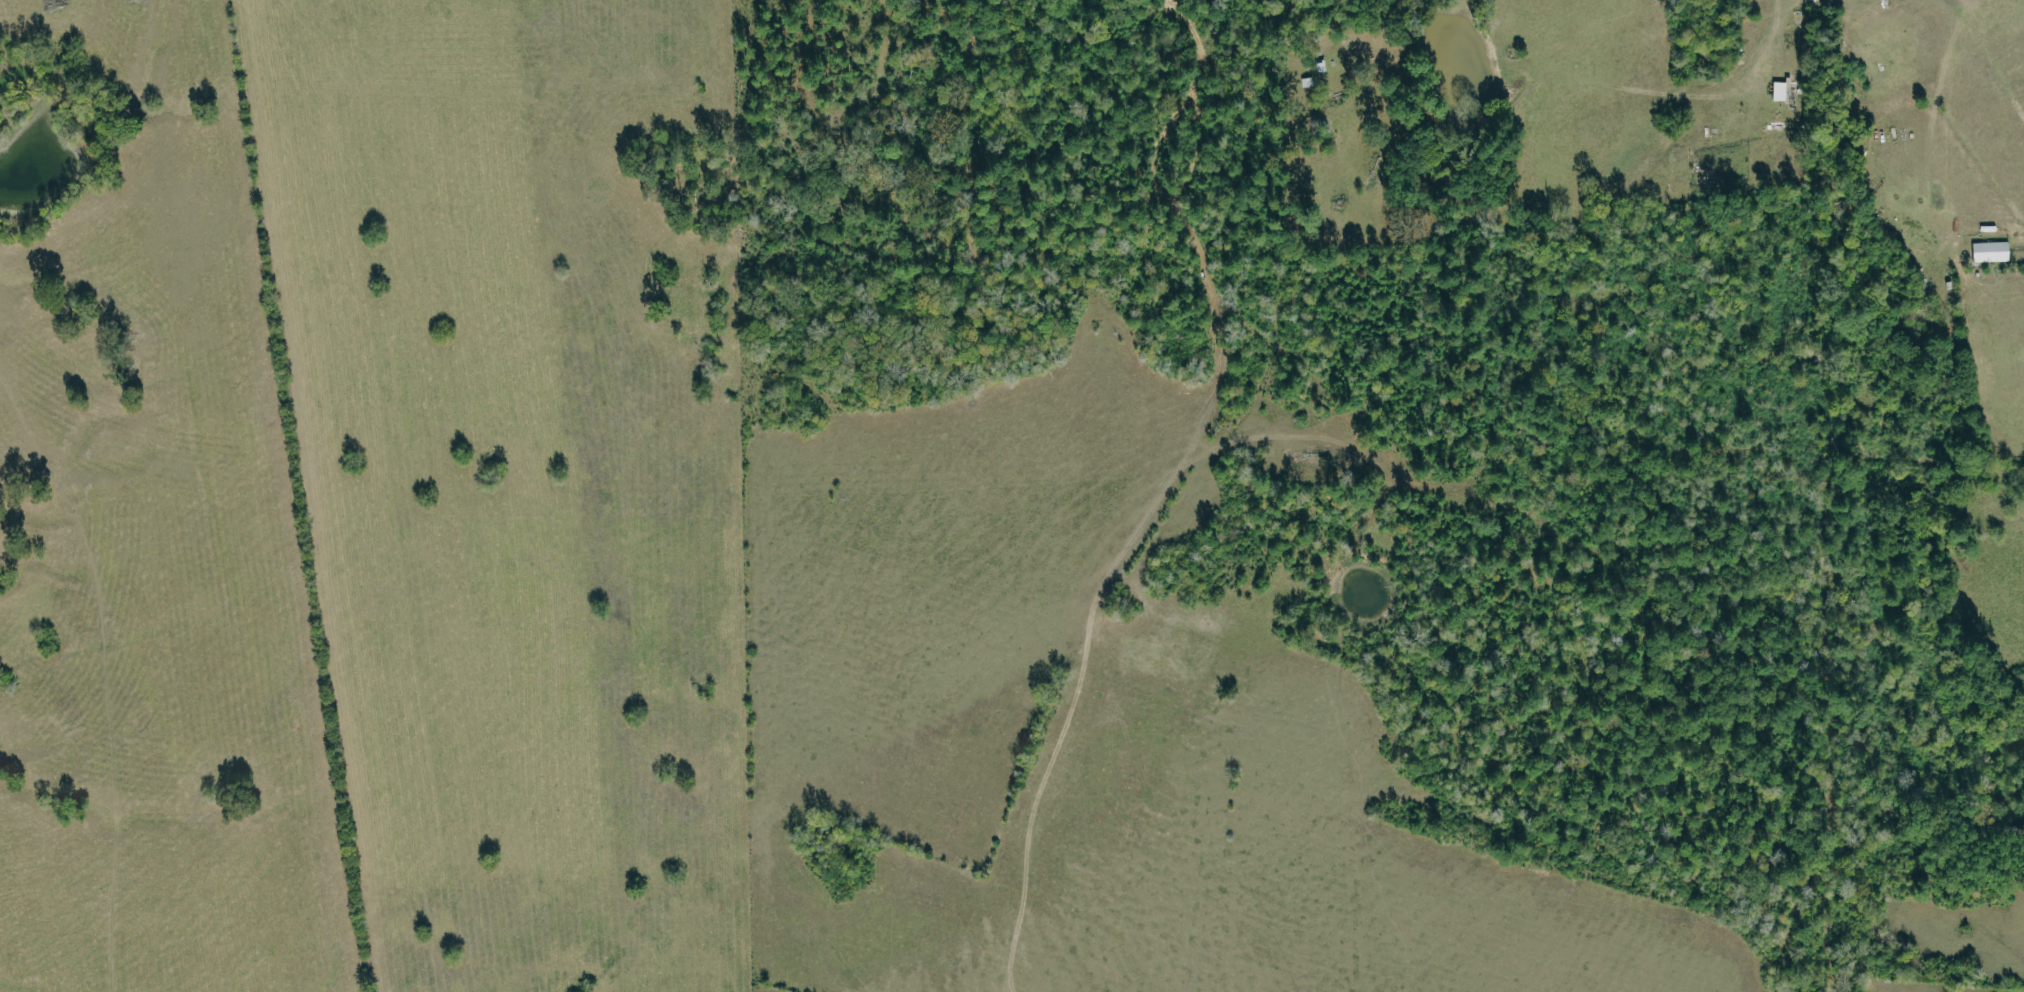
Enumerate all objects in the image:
building: (1776, 90)
building: (1988, 251)

